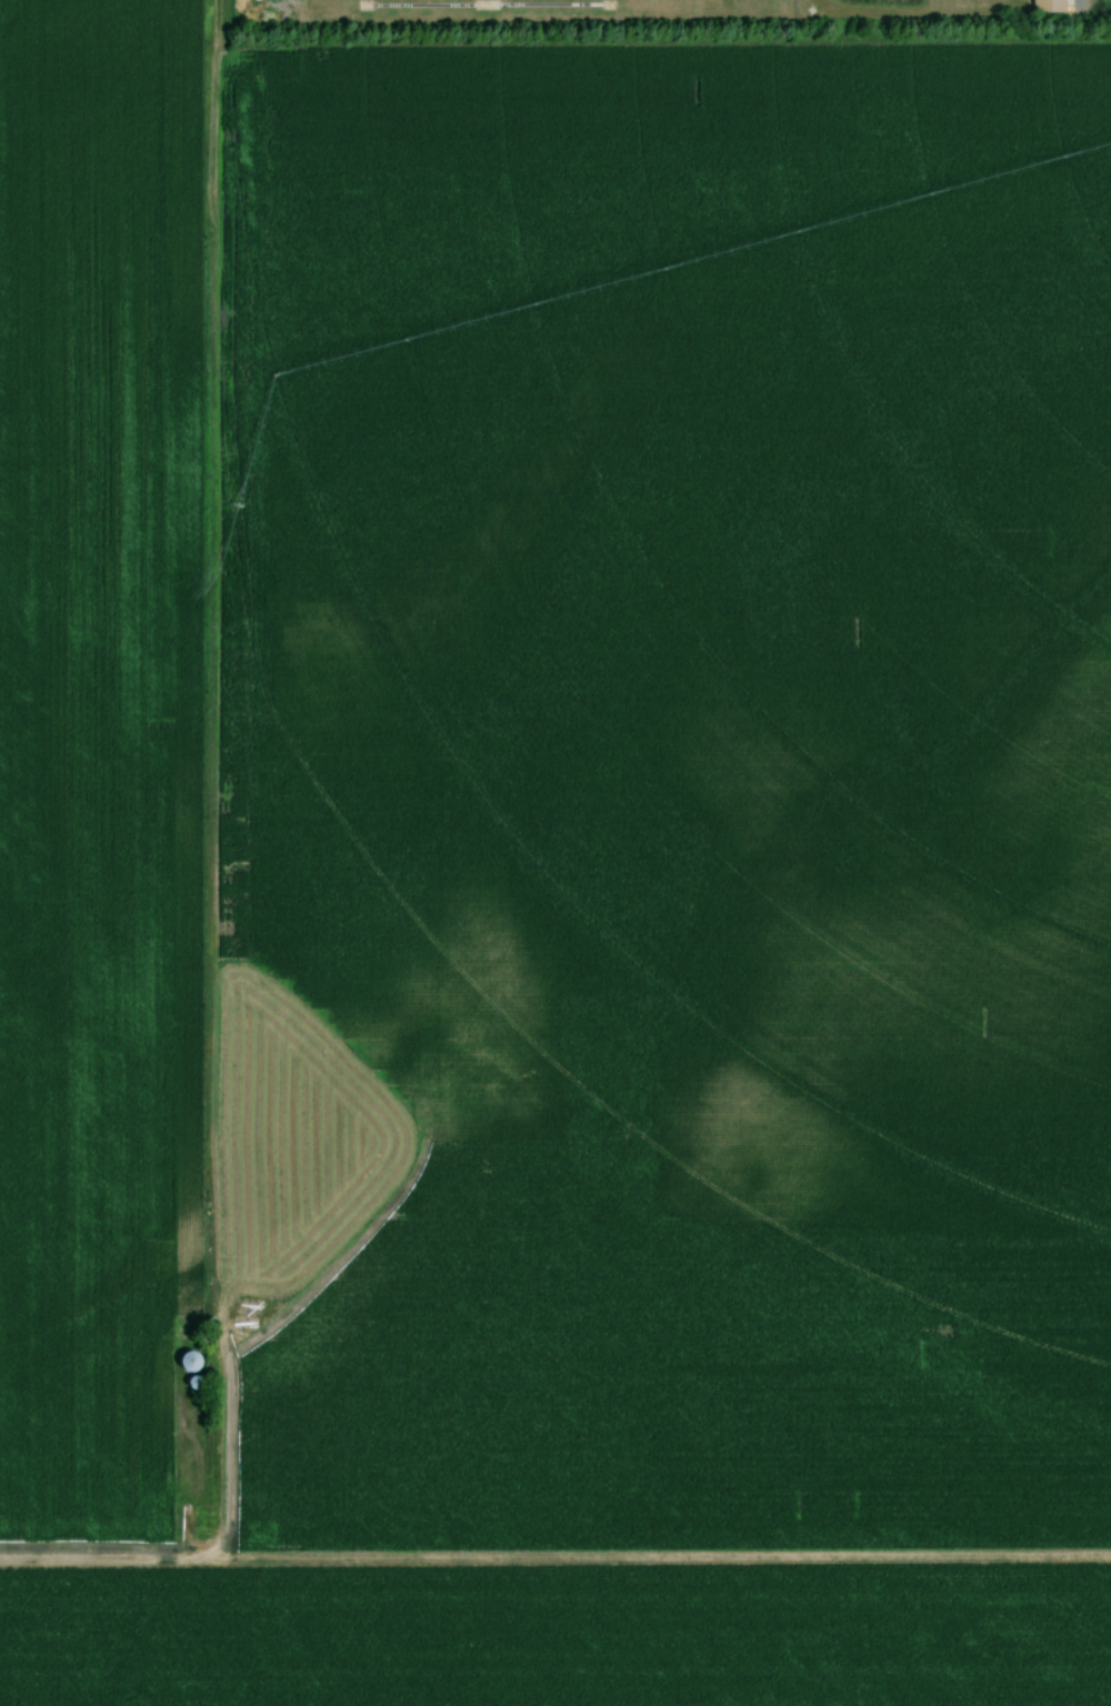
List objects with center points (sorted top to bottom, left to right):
building: (1052, 7)
crop: (100, 750)
crop: (561, 1637)

